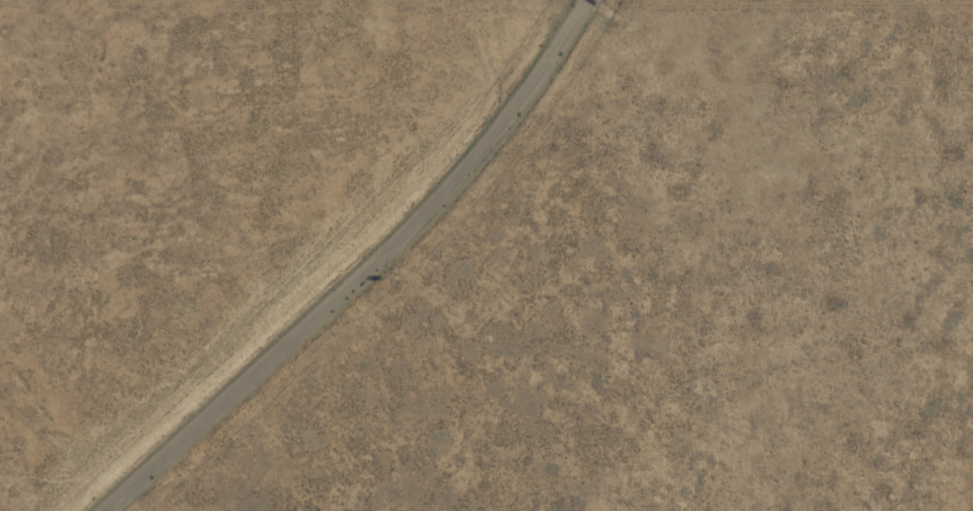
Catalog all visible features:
road: (368, 270)

